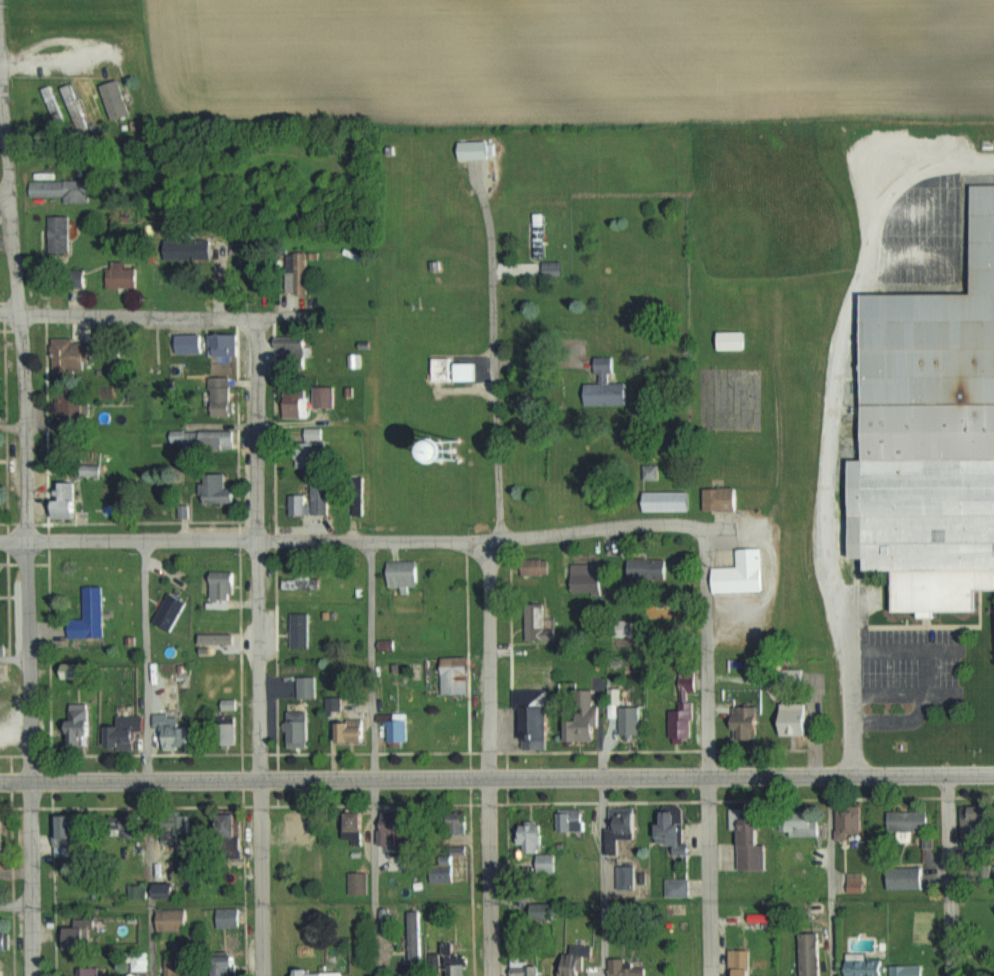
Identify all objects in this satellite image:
road: (55, 60)
building: (116, 97)
building: (73, 99)
building: (30, 101)
building: (53, 103)
building: (94, 105)
building: (479, 149)
road: (4, 187)
building: (62, 189)
building: (60, 234)
building: (542, 234)
building: (553, 268)
building: (302, 272)
building: (123, 275)
road: (11, 314)
road: (96, 315)
road: (210, 316)
building: (734, 339)
building: (190, 343)
building: (224, 344)
building: (294, 351)
building: (72, 355)
building: (455, 369)
building: (607, 385)
building: (223, 395)
building: (327, 395)
building: (298, 400)
building: (72, 407)
road: (825, 422)
road: (25, 424)
road: (13, 430)
building: (206, 438)
building: (930, 438)
building: (313, 448)
building: (485, 448)
water tower: (449, 452)
building: (219, 488)
building: (68, 498)
building: (321, 498)
building: (719, 498)
building: (665, 502)
building: (301, 503)
road: (499, 511)
road: (653, 523)
road: (246, 540)
road: (256, 547)
building: (536, 565)
building: (648, 567)
building: (405, 570)
building: (739, 573)
building: (587, 577)
building: (307, 578)
building: (224, 588)
building: (172, 610)
building: (664, 610)
building: (92, 614)
building: (541, 625)
building: (304, 630)
road: (14, 655)
building: (457, 674)
road: (926, 679)
building: (309, 686)
road: (885, 690)
building: (614, 696)
building: (337, 707)
road: (706, 711)
building: (585, 712)
building: (536, 713)
building: (797, 717)
building: (630, 720)
building: (683, 720)
building: (747, 721)
building: (82, 724)
building: (301, 726)
building: (402, 727)
building: (175, 731)
building: (353, 731)
building: (451, 731)
building: (130, 733)
road: (146, 758)
road: (375, 758)
road: (496, 778)
building: (575, 818)
building: (235, 820)
building: (908, 820)
building: (975, 821)
building: (851, 822)
building: (457, 823)
building: (134, 824)
building: (301, 825)
building: (623, 826)
building: (178, 827)
building: (673, 827)
building: (808, 827)
building: (395, 828)
building: (359, 829)
building: (4, 833)
building: (69, 834)
building: (752, 838)
building: (538, 846)
building: (443, 871)
building: (627, 876)
road: (830, 876)
road: (951, 876)
road: (485, 877)
road: (602, 877)
road: (704, 877)
building: (905, 877)
road: (262, 878)
road: (33, 879)
building: (360, 883)
building: (857, 885)
building: (678, 887)
building: (168, 890)
road: (17, 905)
building: (546, 910)
building: (229, 918)
building: (174, 919)
building: (416, 937)
building: (6, 940)
building: (813, 954)
building: (576, 959)
building: (451, 961)
building: (180, 965)
building: (227, 965)
building: (2, 967)
building: (867, 967)
building: (527, 968)
building: (625, 968)
building: (908, 970)
building: (90, 971)
building: (746, 971)
building: (320, 973)

